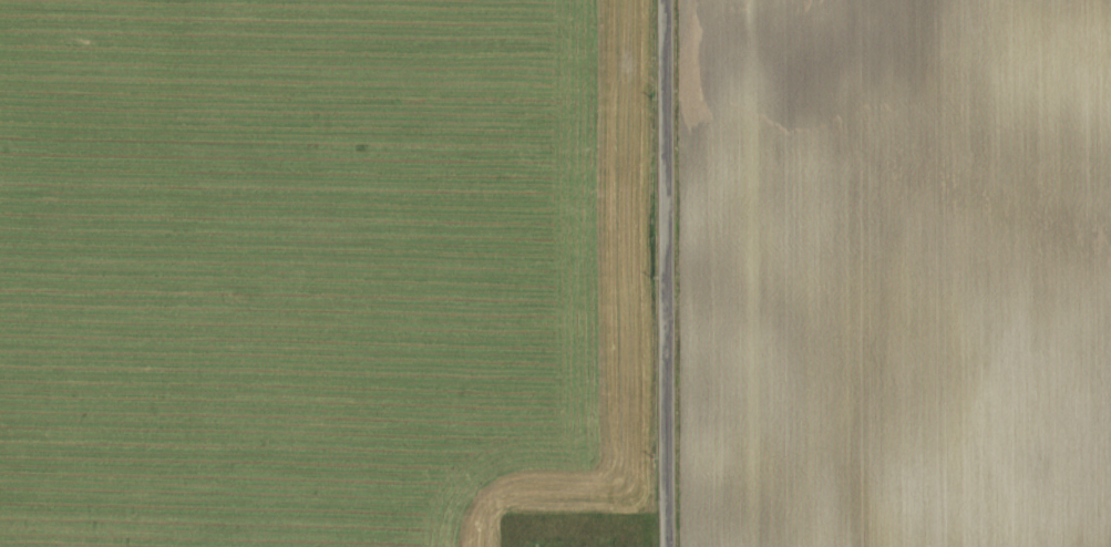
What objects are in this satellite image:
road: (659, 273)

